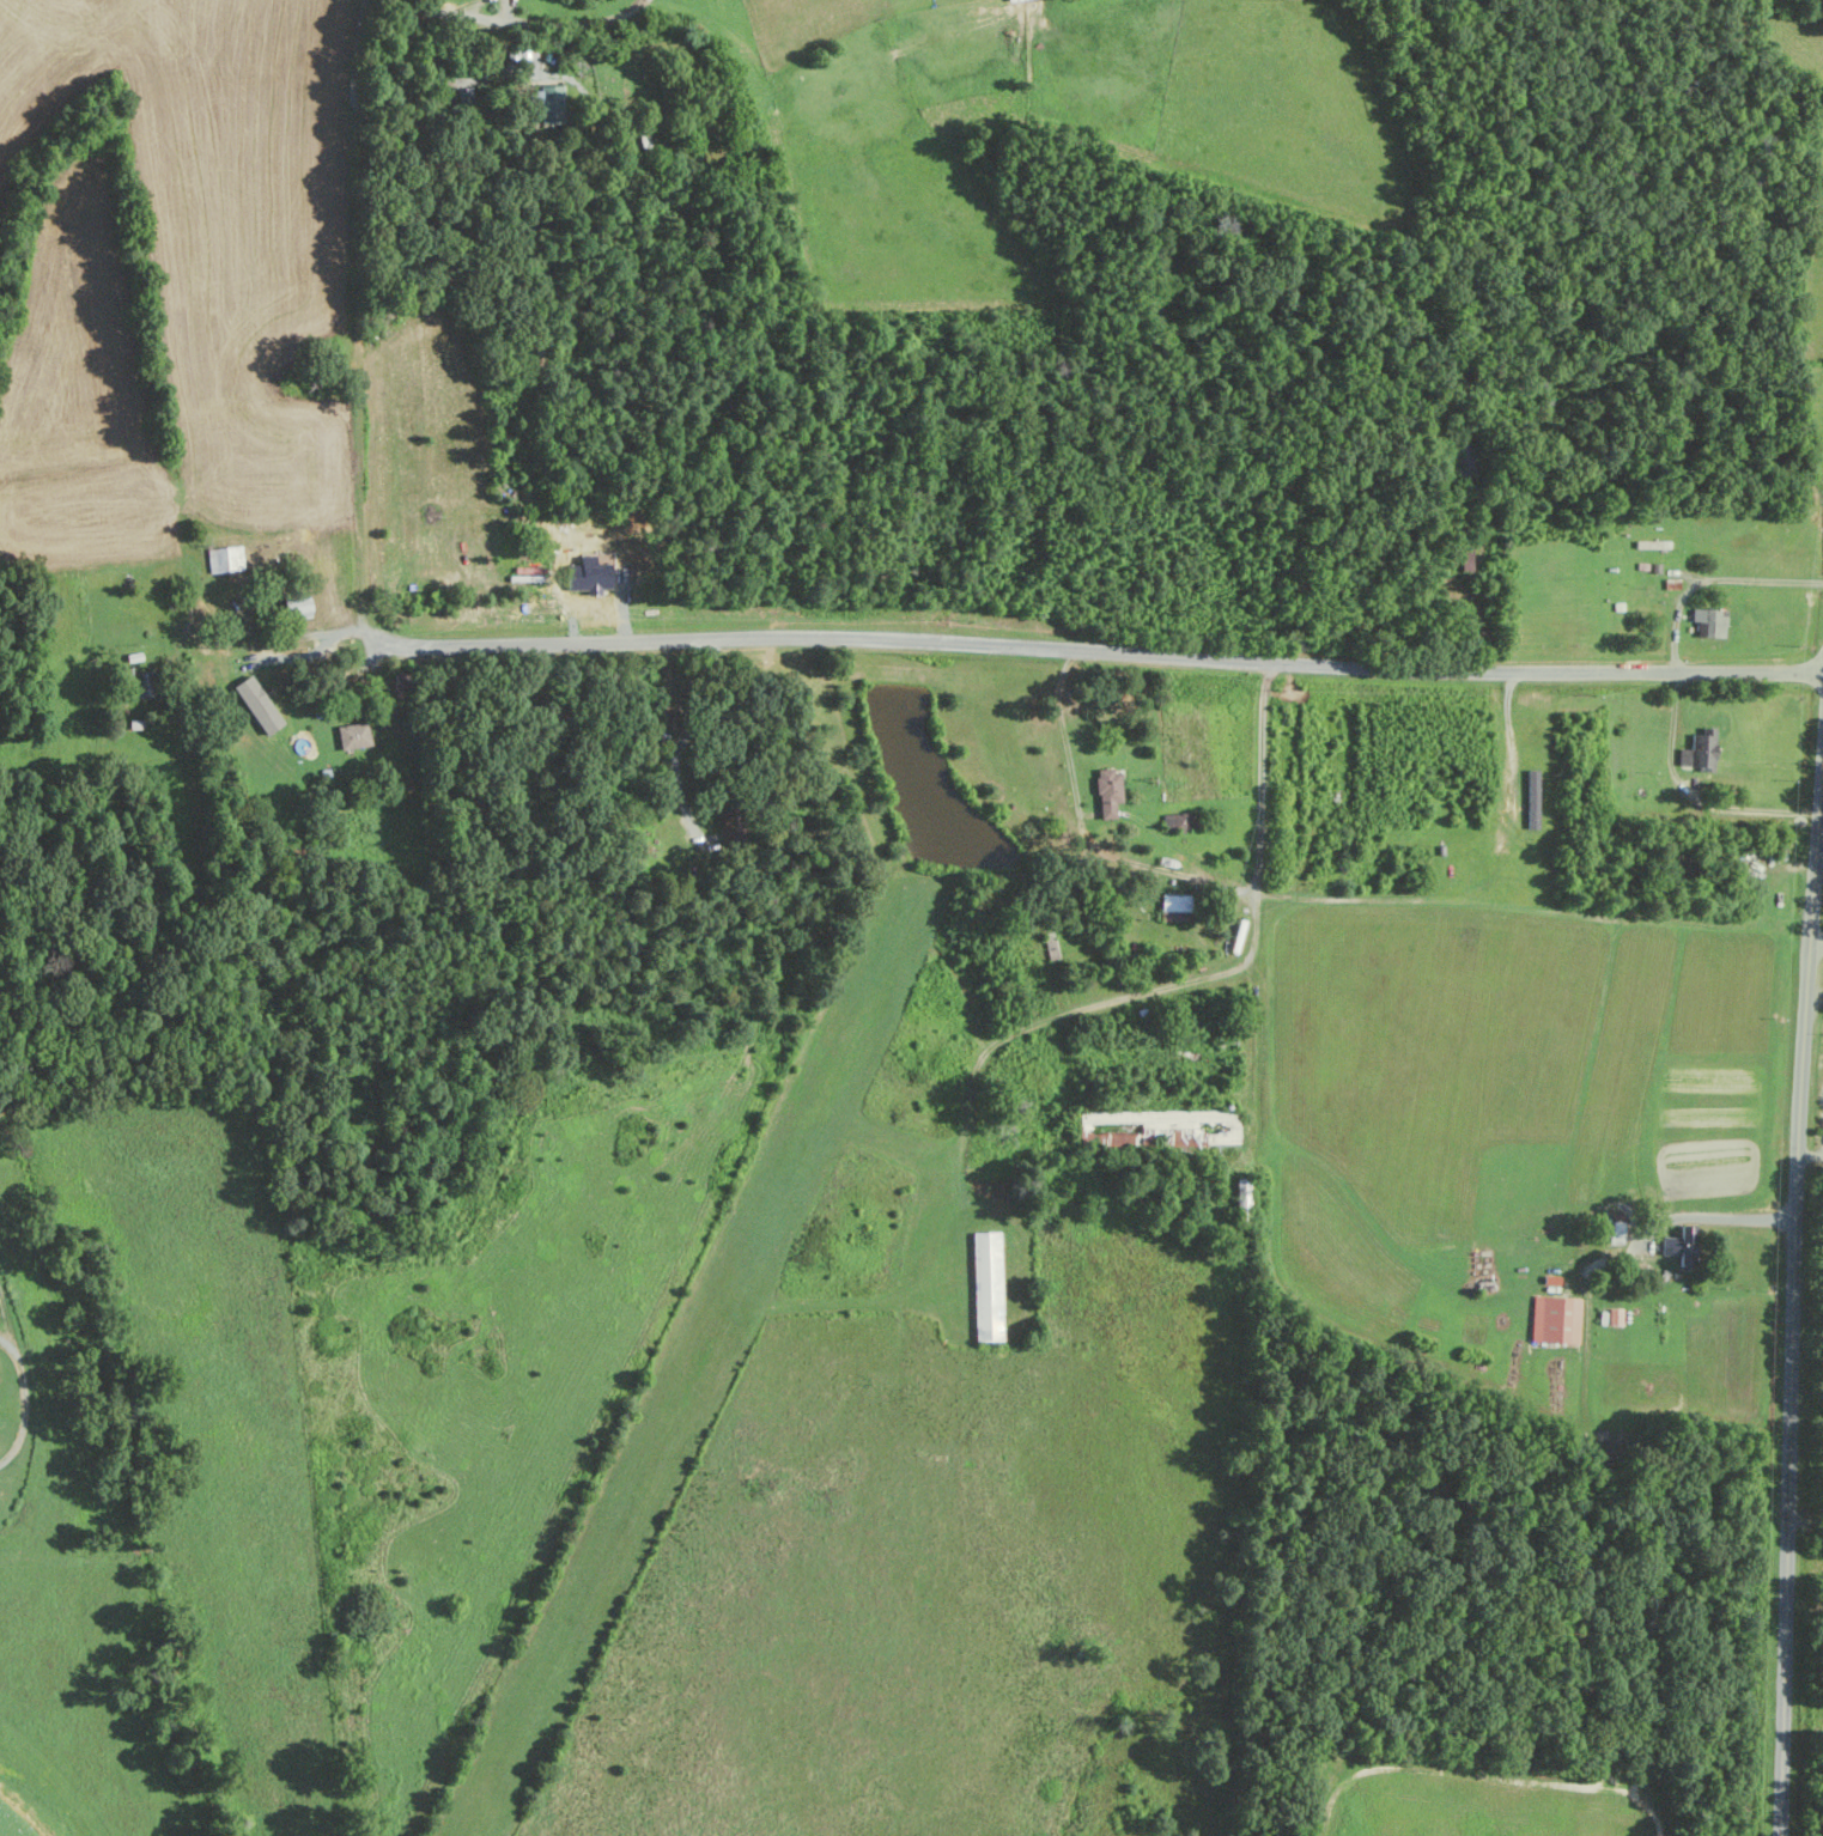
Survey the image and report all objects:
building: (1014, 0)
road: (523, 23)
building: (549, 98)
road: (357, 322)
building: (225, 558)
road: (1712, 578)
building: (1710, 621)
road: (1096, 652)
road: (308, 653)
building: (259, 704)
building: (354, 735)
road: (677, 742)
road: (1509, 742)
building: (1701, 749)
building: (1108, 792)
road: (1690, 797)
building: (1535, 798)
road: (1081, 832)
building: (1177, 902)
road: (1816, 946)
road: (1251, 953)
building: (1107, 1138)
road: (1810, 1155)
road: (1712, 1217)
building: (1617, 1232)
building: (1683, 1246)
airport taxiway: (936, 1266)
airport hangar: (985, 1285)
building: (985, 1285)
road: (1793, 1295)
building: (1617, 1317)
building: (1556, 1319)
road: (5, 1320)
airport runway: (691, 1364)
road: (20, 1399)
road: (1809, 1524)

